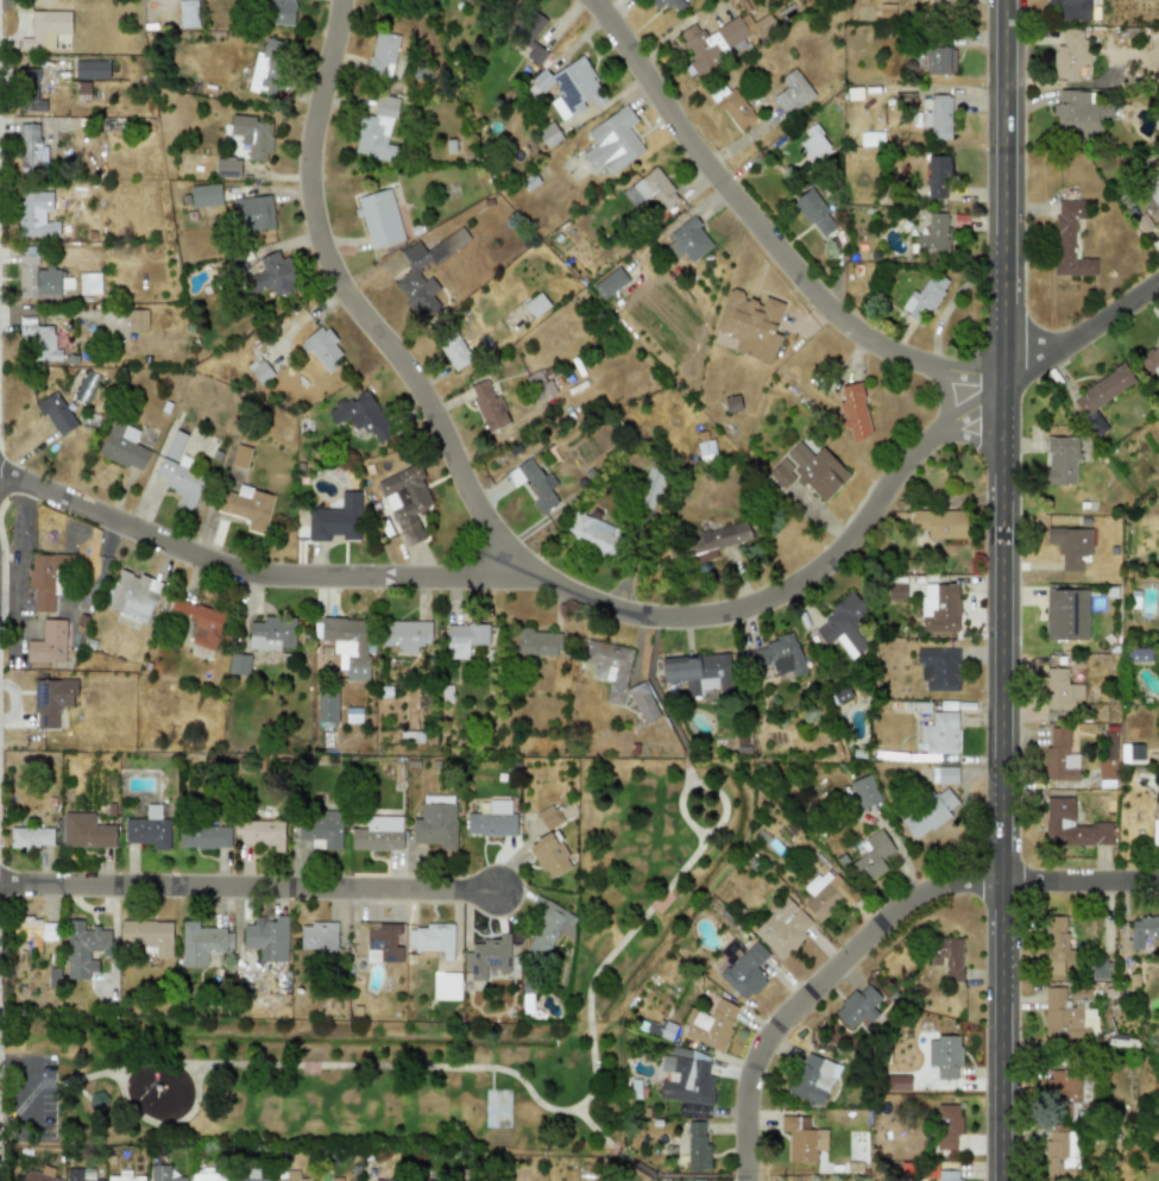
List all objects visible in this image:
building: (496, 1)
building: (668, 4)
building: (936, 4)
road: (618, 8)
building: (1070, 8)
building: (276, 11)
building: (187, 13)
building: (45, 29)
building: (530, 29)
building: (383, 51)
building: (1071, 55)
building: (938, 59)
building: (265, 67)
building: (90, 69)
building: (571, 84)
building: (30, 90)
building: (792, 92)
building: (731, 106)
building: (1077, 113)
building: (932, 120)
building: (376, 130)
building: (548, 134)
building: (253, 136)
building: (612, 142)
building: (813, 144)
building: (30, 149)
building: (227, 167)
building: (936, 175)
building: (649, 189)
building: (1151, 194)
building: (204, 195)
building: (32, 213)
building: (253, 213)
building: (813, 213)
building: (379, 219)
road: (767, 231)
building: (934, 234)
building: (689, 239)
building: (1067, 239)
building: (411, 272)
building: (272, 275)
building: (38, 276)
building: (609, 282)
building: (89, 283)
building: (922, 296)
building: (535, 304)
building: (137, 319)
building: (749, 323)
building: (38, 339)
building: (322, 347)
building: (453, 351)
building: (1149, 359)
building: (258, 369)
building: (540, 385)
building: (1102, 389)
road: (943, 394)
building: (731, 403)
building: (487, 404)
building: (853, 412)
building: (56, 413)
building: (361, 415)
road: (966, 438)
building: (174, 445)
building: (122, 446)
building: (705, 448)
building: (239, 456)
building: (1060, 459)
building: (808, 470)
building: (181, 479)
building: (534, 483)
building: (649, 488)
building: (405, 501)
building: (246, 505)
building: (335, 519)
building: (939, 523)
building: (592, 533)
building: (714, 539)
building: (1070, 545)
building: (48, 577)
road: (262, 578)
building: (895, 588)
road: (1001, 590)
building: (132, 595)
road: (580, 599)
building: (939, 607)
building: (1065, 614)
building: (199, 622)
building: (843, 623)
building: (271, 633)
building: (404, 634)
building: (462, 639)
building: (48, 642)
building: (536, 642)
building: (347, 643)
building: (1138, 654)
building: (780, 655)
building: (238, 664)
building: (609, 665)
building: (938, 667)
building: (698, 673)
building: (1059, 690)
building: (51, 699)
building: (642, 702)
building: (326, 705)
building: (939, 733)
building: (1130, 752)
building: (1107, 754)
building: (1059, 755)
building: (944, 774)
building: (864, 791)
road: (682, 808)
road: (722, 808)
building: (928, 813)
building: (548, 817)
building: (492, 819)
building: (435, 825)
building: (1071, 825)
building: (320, 827)
building: (147, 828)
building: (86, 830)
building: (1154, 831)
building: (263, 833)
building: (377, 834)
building: (203, 836)
building: (31, 837)
building: (549, 855)
building: (871, 855)
road: (250, 887)
building: (826, 893)
park: (630, 918)
building: (548, 926)
building: (781, 928)
building: (36, 930)
building: (1142, 930)
building: (146, 935)
building: (319, 936)
building: (266, 937)
road: (883, 937)
building: (430, 938)
building: (378, 941)
building: (199, 943)
building: (1057, 946)
building: (83, 948)
building: (486, 956)
building: (946, 956)
building: (1097, 968)
building: (744, 972)
building: (446, 984)
building: (857, 1006)
building: (1069, 1013)
building: (711, 1023)
building: (944, 1055)
road: (479, 1072)
building: (686, 1076)
building: (813, 1079)
road: (27, 1081)
building: (1065, 1094)
building: (97, 1100)
building: (946, 1125)
road: (164, 1129)
building: (801, 1138)
building: (697, 1144)
building: (1060, 1152)
road: (656, 1171)
building: (162, 1173)
building: (39, 1174)
building: (80, 1174)
building: (947, 1175)
building: (124, 1176)
building: (207, 1176)
building: (291, 1176)
building: (250, 1179)
building: (335, 1179)
building: (417, 1179)
building: (382, 1180)

